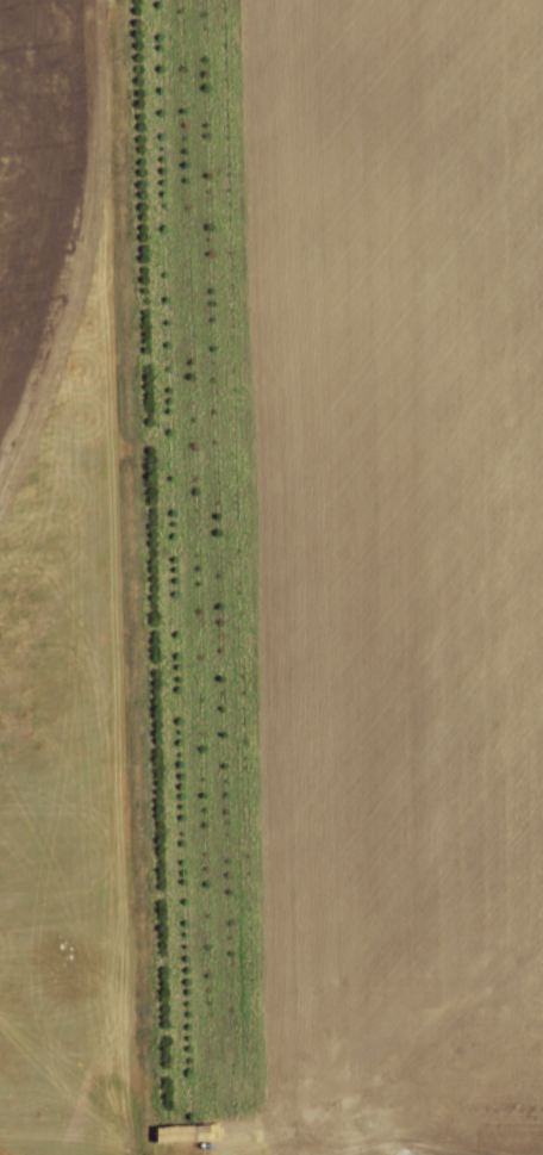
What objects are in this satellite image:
crop: (394, 575)
crop: (61, 592)

